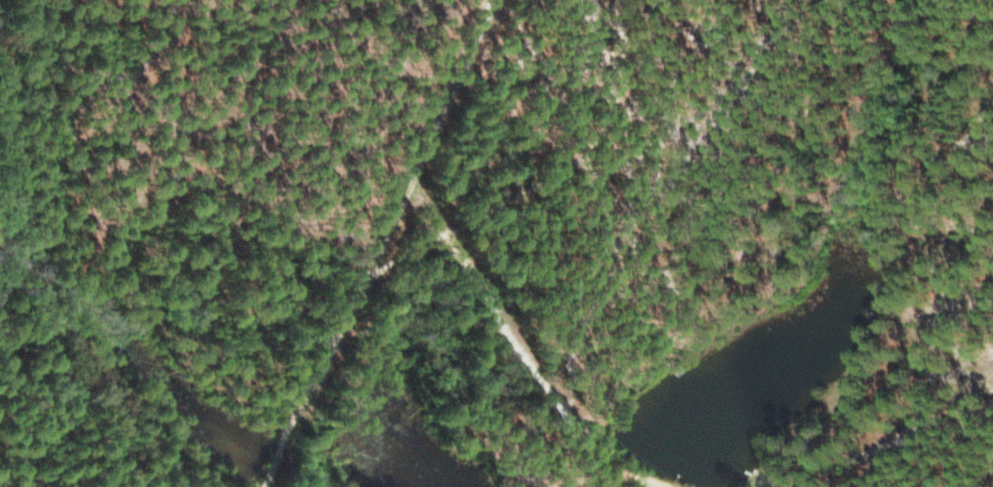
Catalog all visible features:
road: (356, 244)

